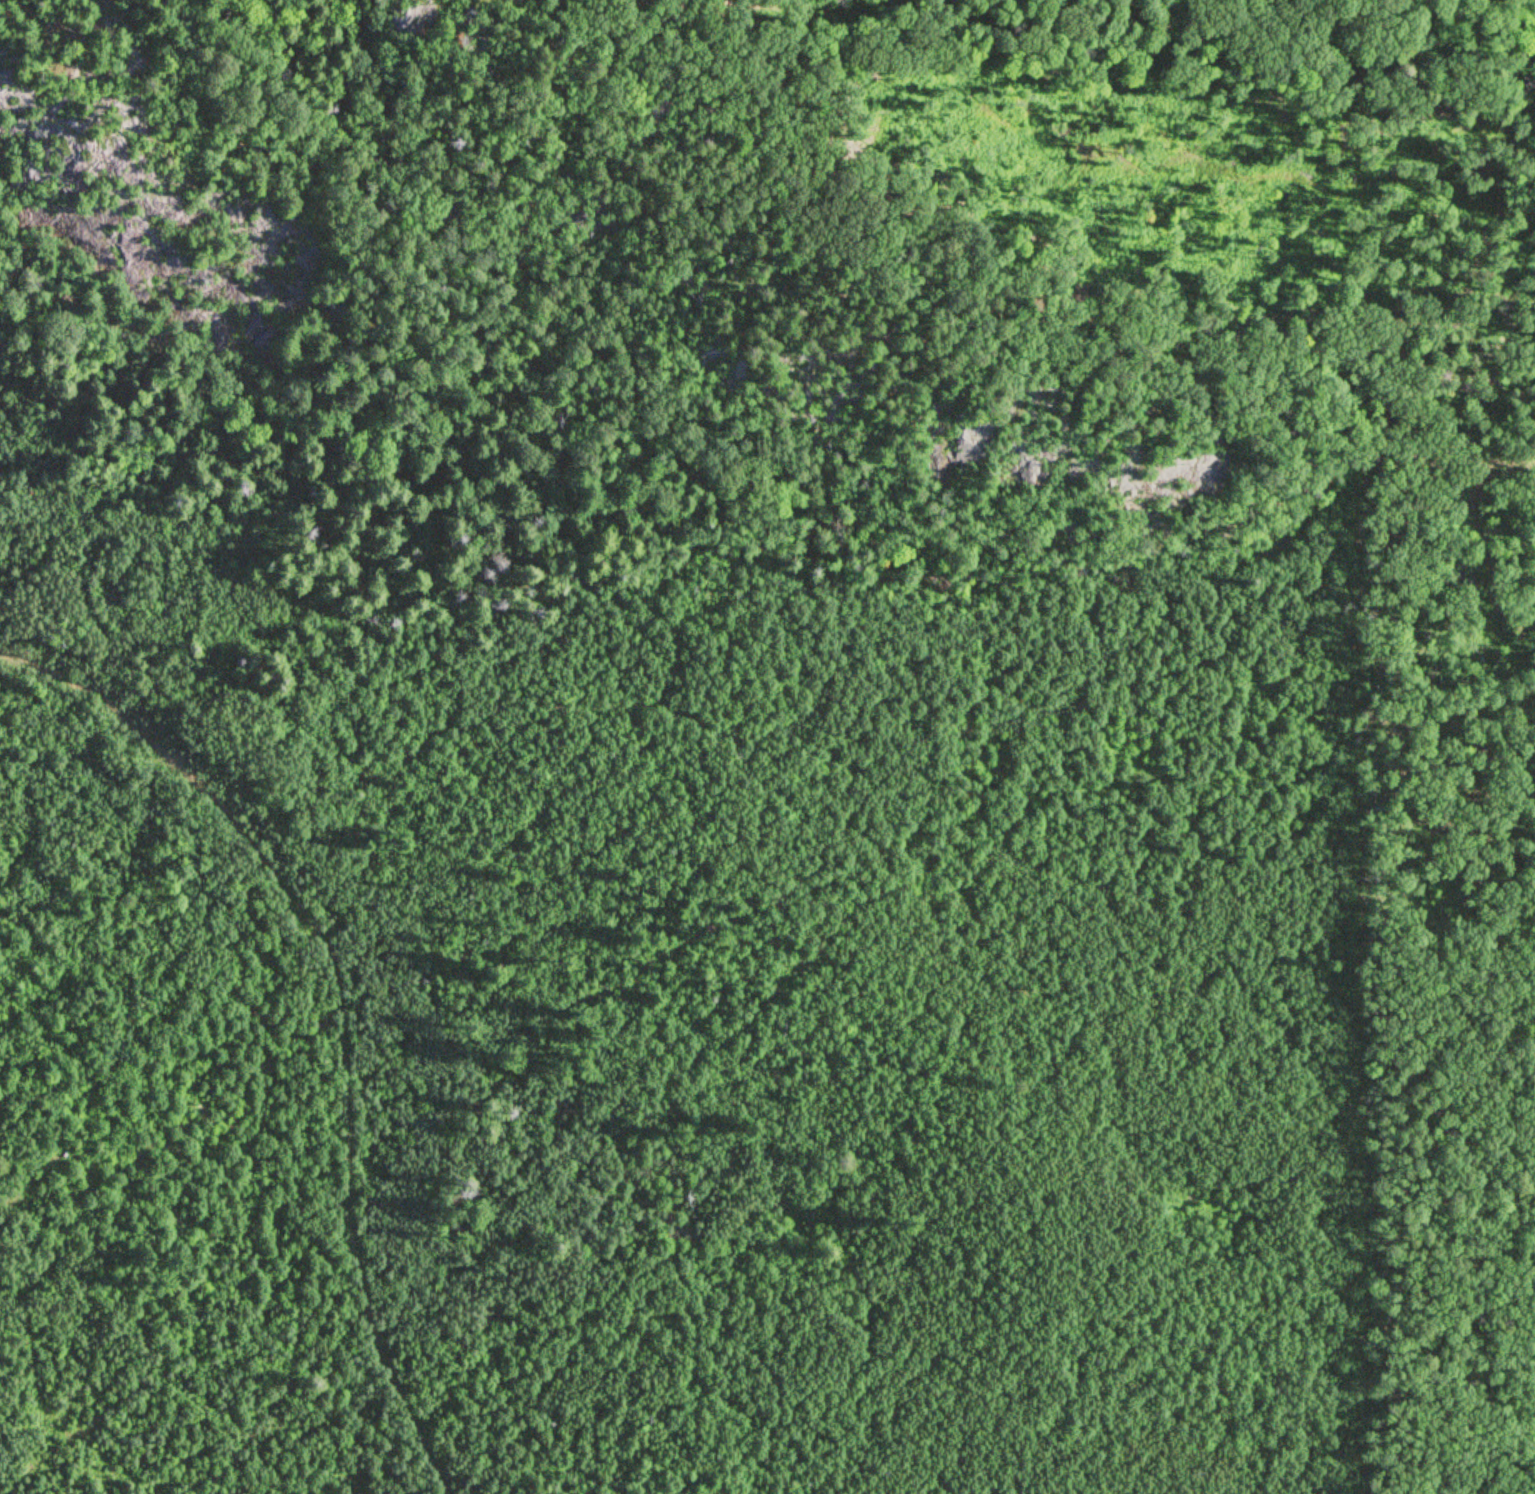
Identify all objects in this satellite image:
road: (337, 1005)
road: (1462, 1356)

